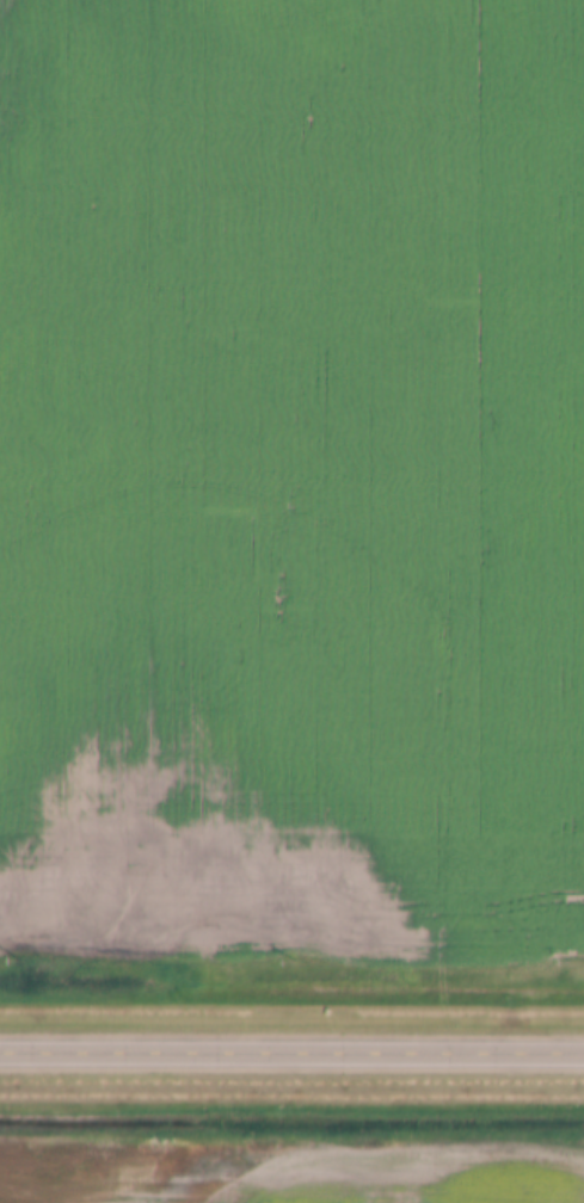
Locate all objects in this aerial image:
road: (291, 1049)

